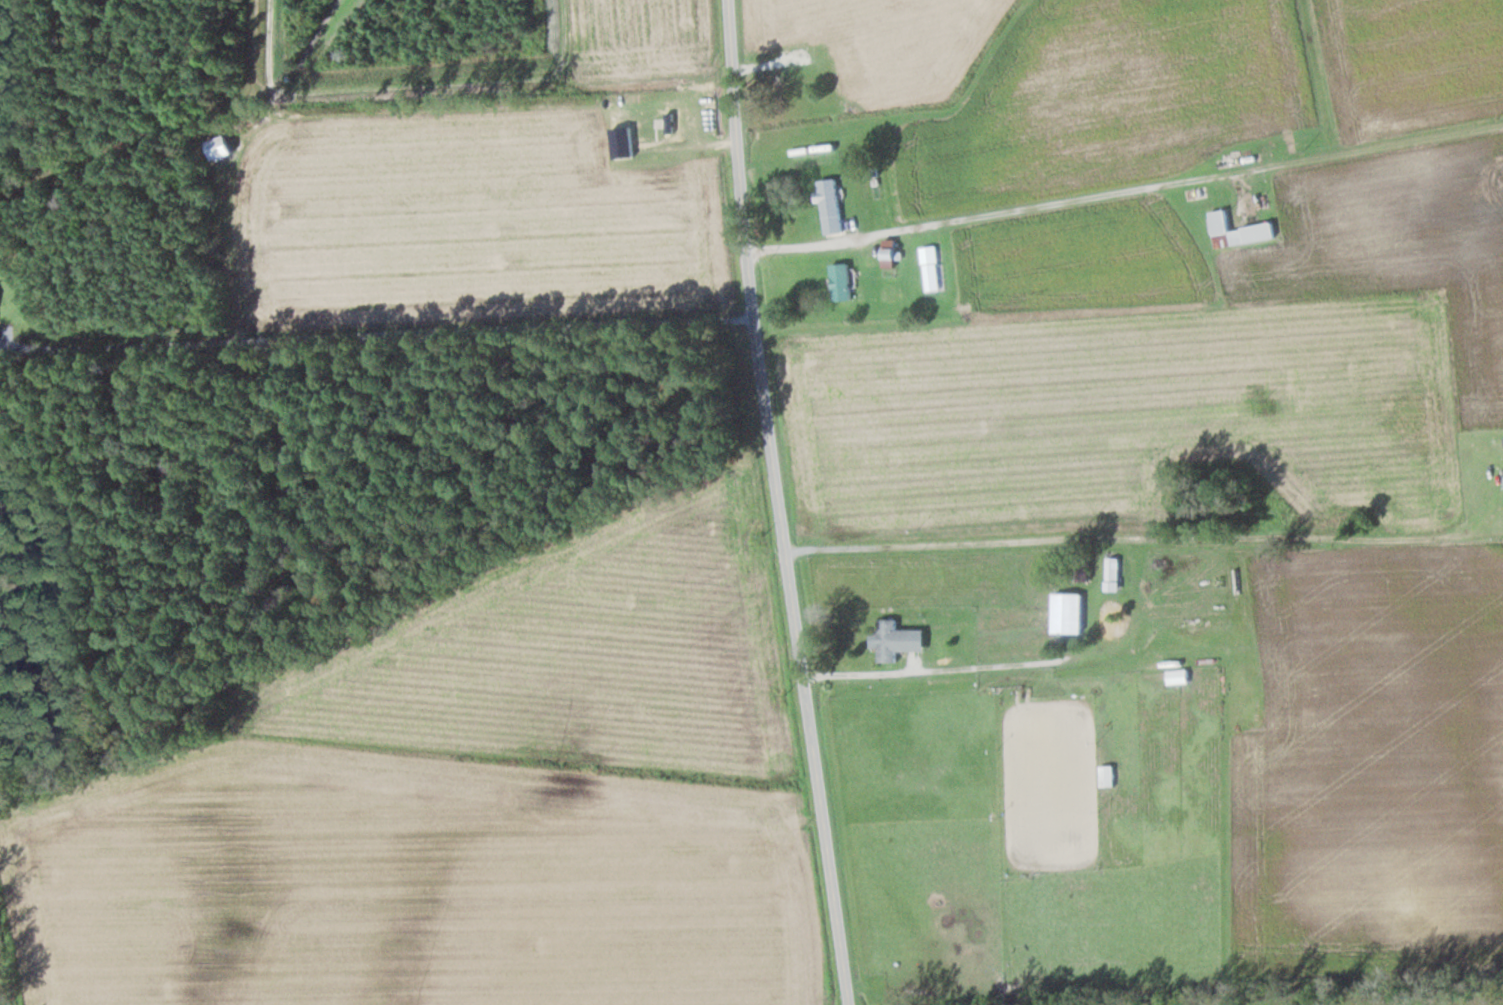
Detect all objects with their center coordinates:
building: (776, 90)
building: (674, 118)
building: (218, 151)
building: (829, 208)
building: (1237, 233)
building: (888, 256)
building: (866, 258)
building: (840, 283)
road: (376, 318)
road: (782, 503)
building: (1112, 576)
building: (1067, 615)
building: (1109, 622)
building: (887, 643)
building: (1177, 678)
building: (1107, 778)

